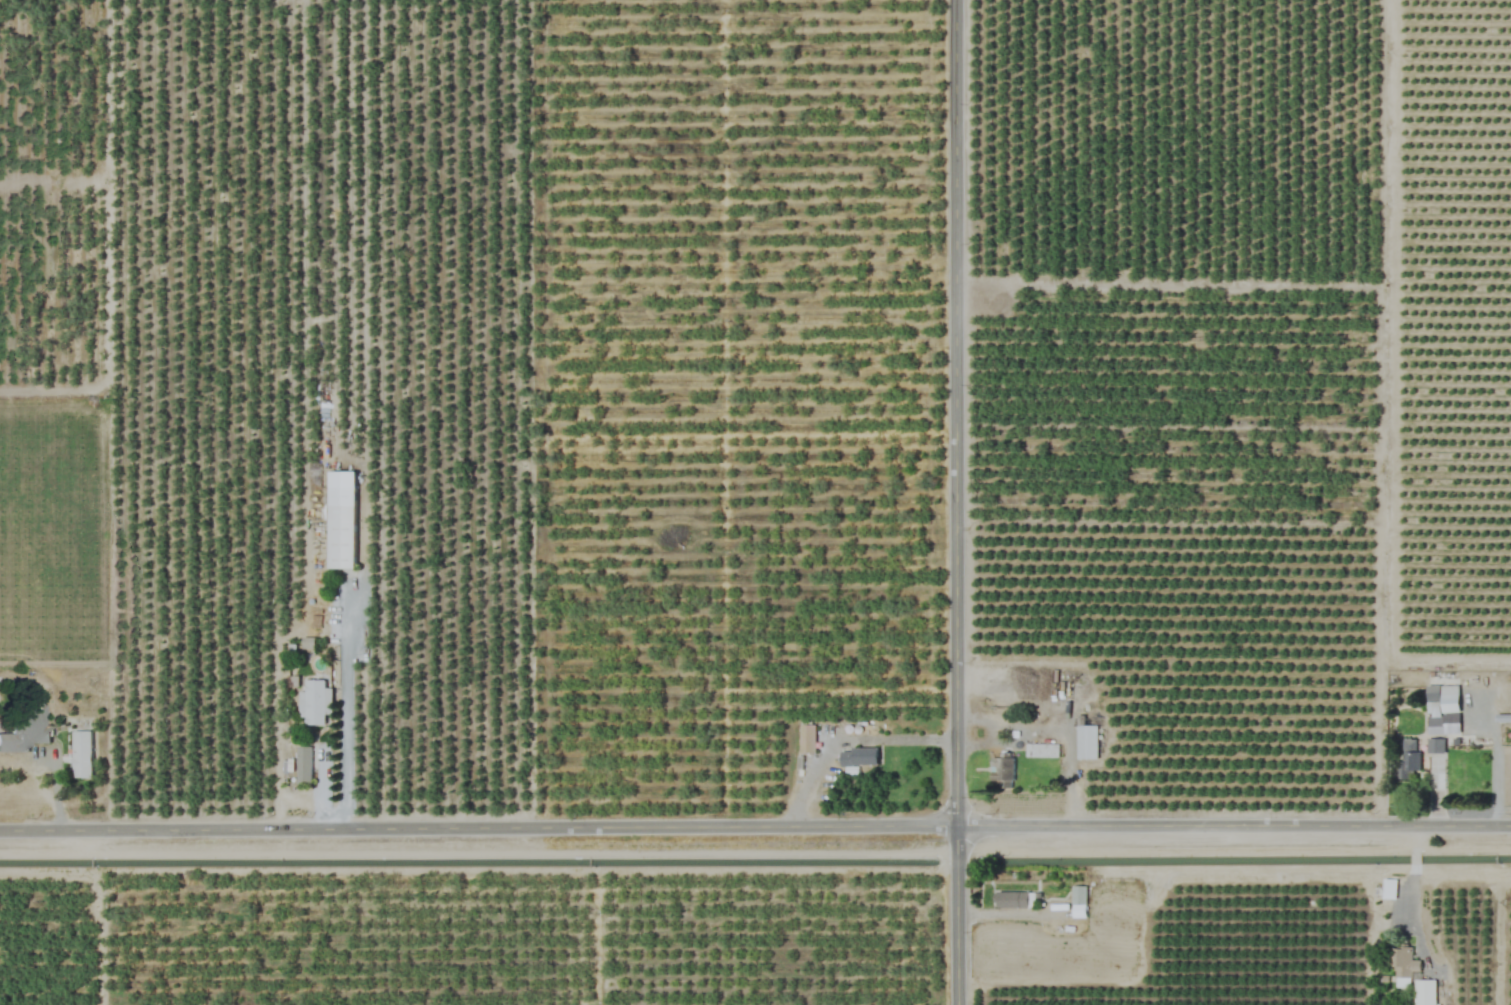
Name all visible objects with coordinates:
road: (957, 502)
building: (340, 536)
building: (315, 703)
building: (1442, 710)
road: (344, 711)
building: (24, 726)
road: (1056, 729)
building: (806, 739)
building: (1086, 743)
building: (1435, 746)
building: (1041, 751)
building: (81, 754)
building: (858, 757)
building: (1409, 759)
building: (303, 765)
building: (1002, 773)
road: (755, 825)
road: (1414, 840)
road: (1413, 859)
building: (1388, 889)
building: (1078, 895)
road: (1409, 895)
building: (1010, 900)
building: (1403, 965)
building: (1424, 992)

